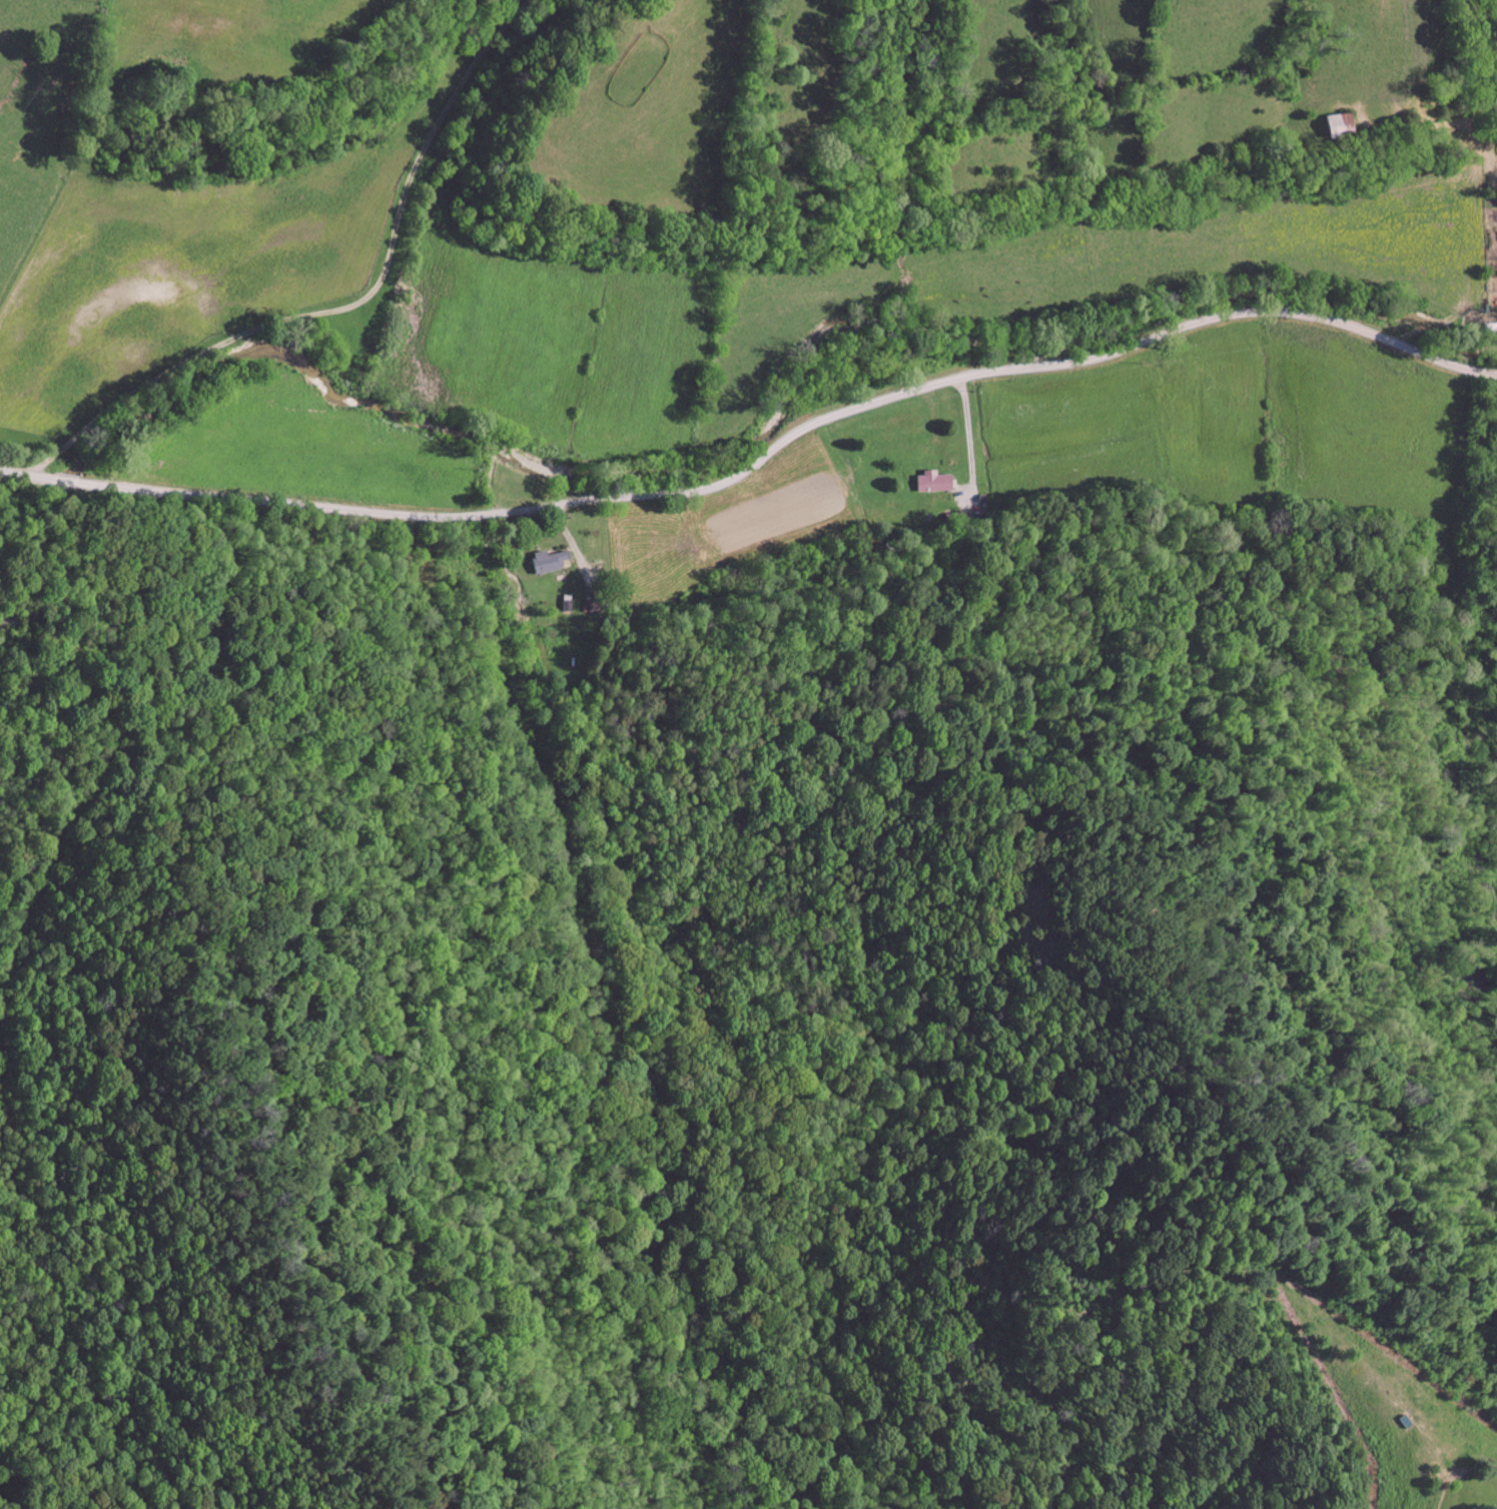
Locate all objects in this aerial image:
building: (1342, 126)
road: (760, 461)
building: (936, 482)
building: (550, 562)

